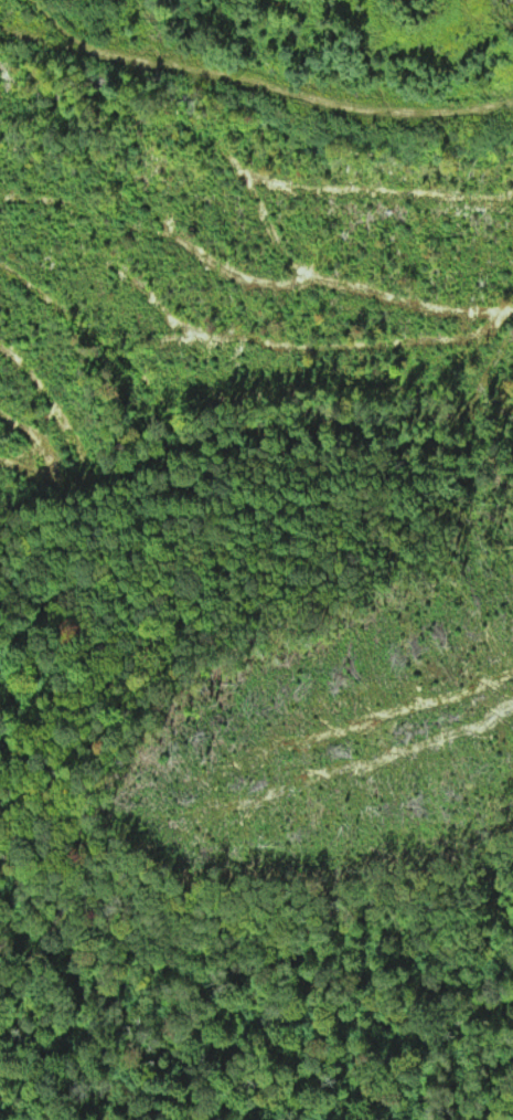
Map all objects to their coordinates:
road: (343, 65)

